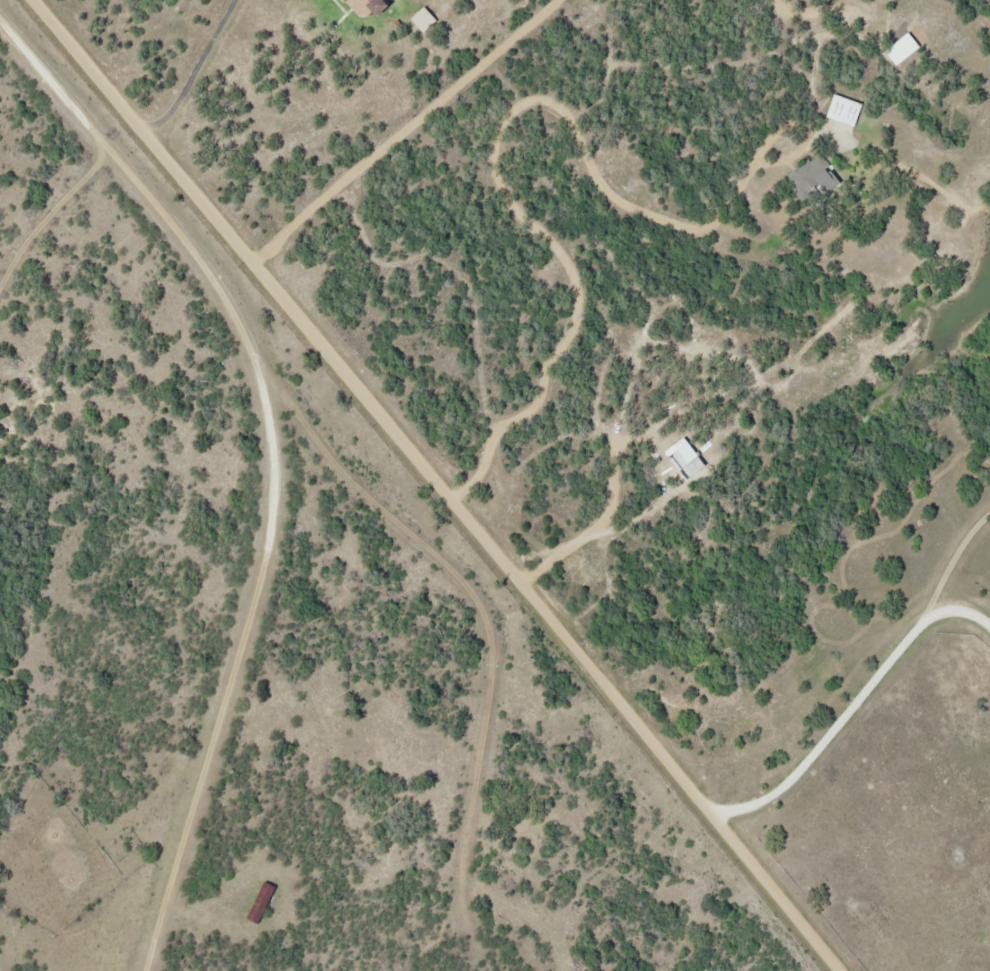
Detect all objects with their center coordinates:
building: (345, 0)
building: (377, 7)
road: (197, 70)
building: (847, 109)
road: (493, 161)
building: (816, 179)
road: (48, 208)
road: (277, 458)
road: (442, 483)
road: (951, 558)
road: (489, 630)
road: (849, 708)
building: (265, 901)

